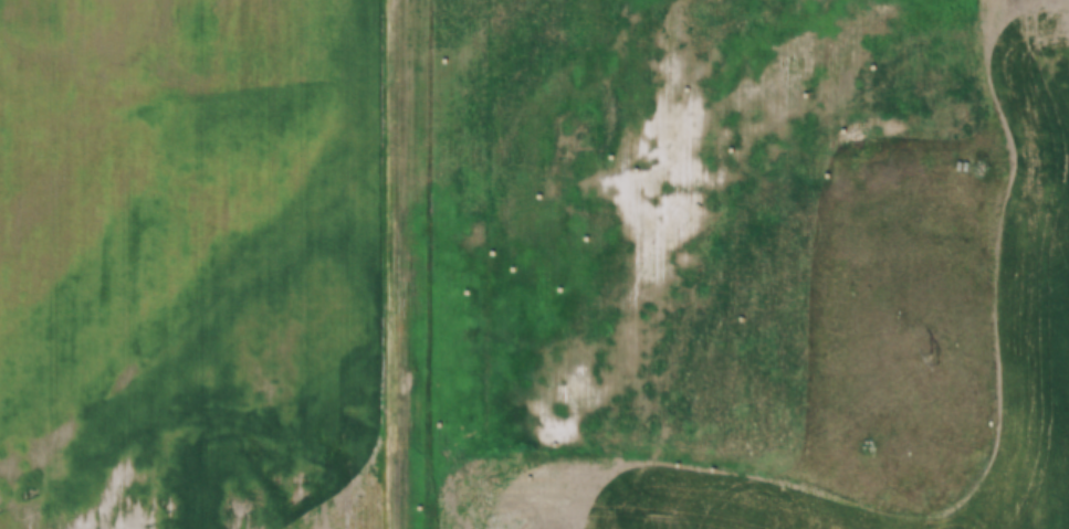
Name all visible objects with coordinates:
building: (489, 6)
road: (402, 264)

